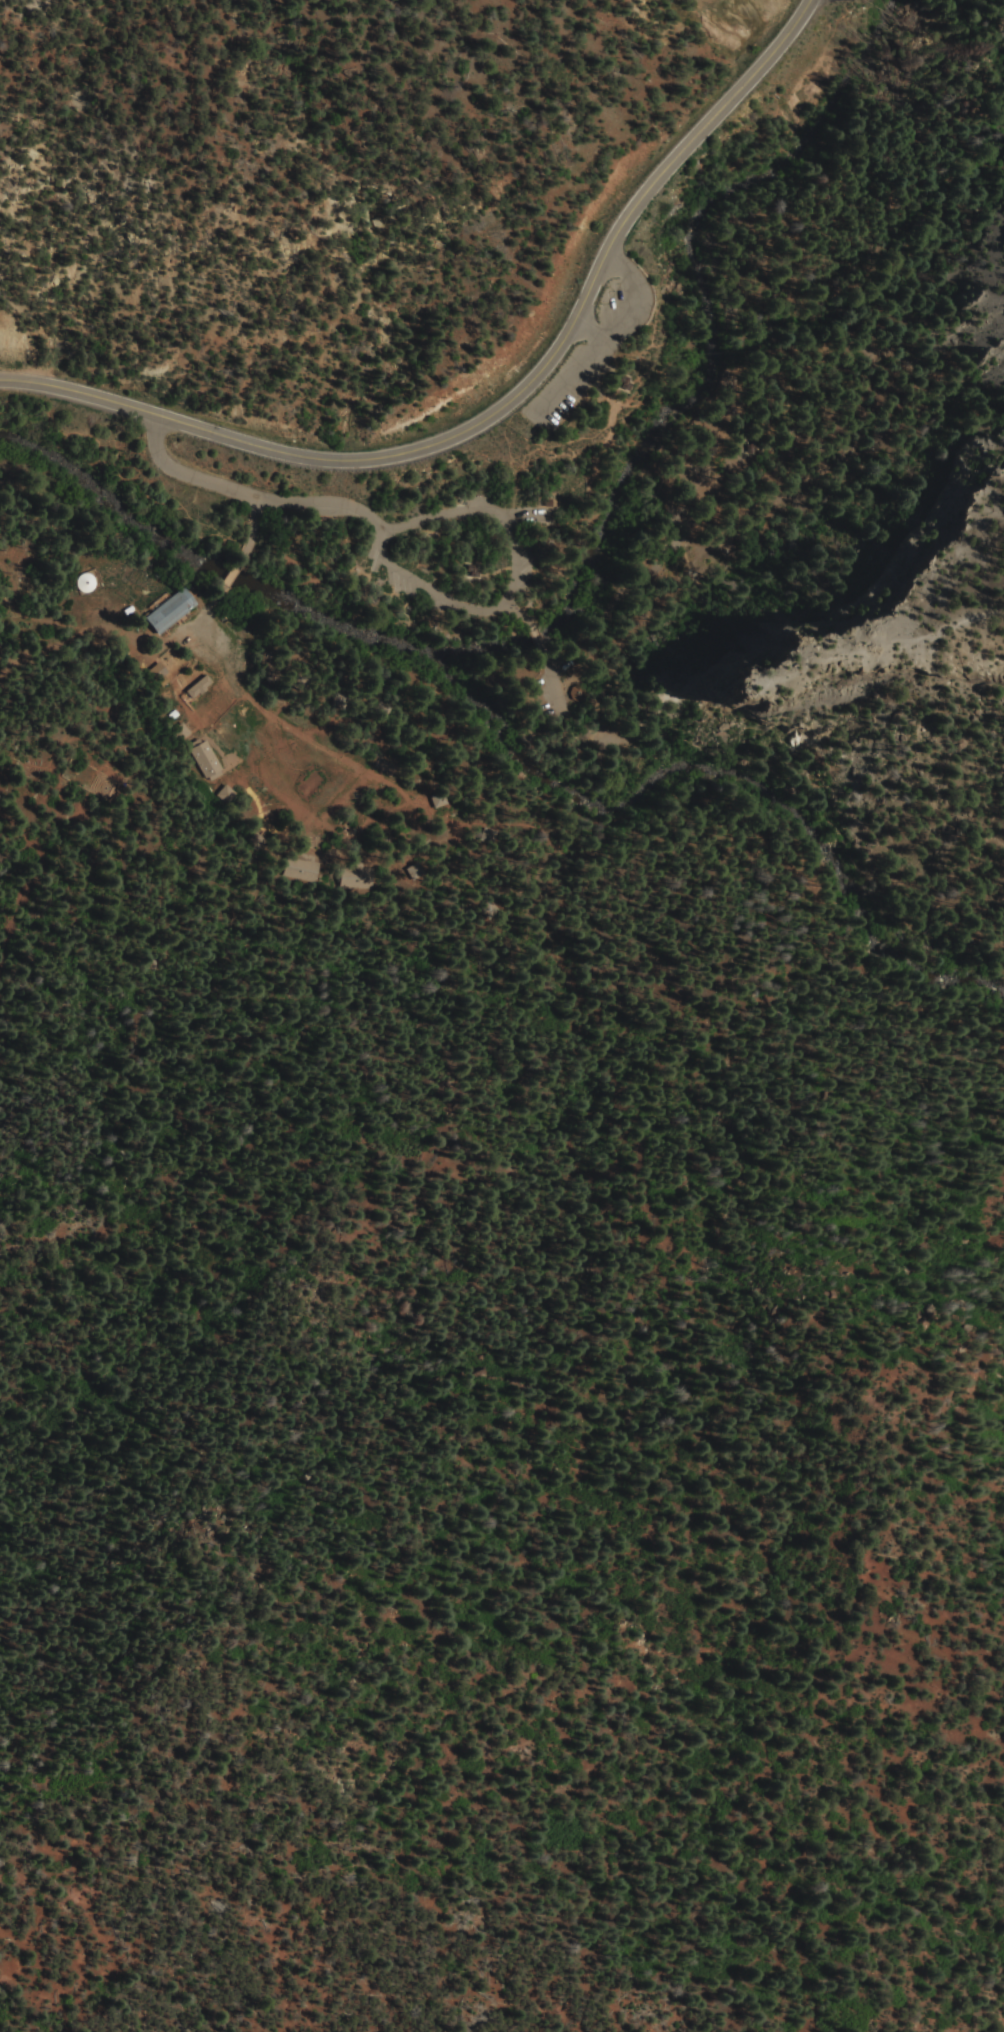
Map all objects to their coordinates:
road: (613, 260)
road: (578, 322)
road: (593, 333)
parking lot: (601, 340)
road: (595, 346)
road: (495, 408)
road: (180, 471)
road: (589, 490)
road: (313, 505)
road: (667, 513)
road: (246, 520)
road: (233, 563)
building: (78, 581)
storage tank: (78, 581)
road: (517, 590)
road: (213, 600)
road: (523, 609)
building: (163, 611)
road: (531, 632)
road: (550, 680)
building: (195, 687)
building: (181, 732)
building: (205, 761)
building: (434, 799)
road: (801, 808)
building: (299, 867)
road: (939, 877)

